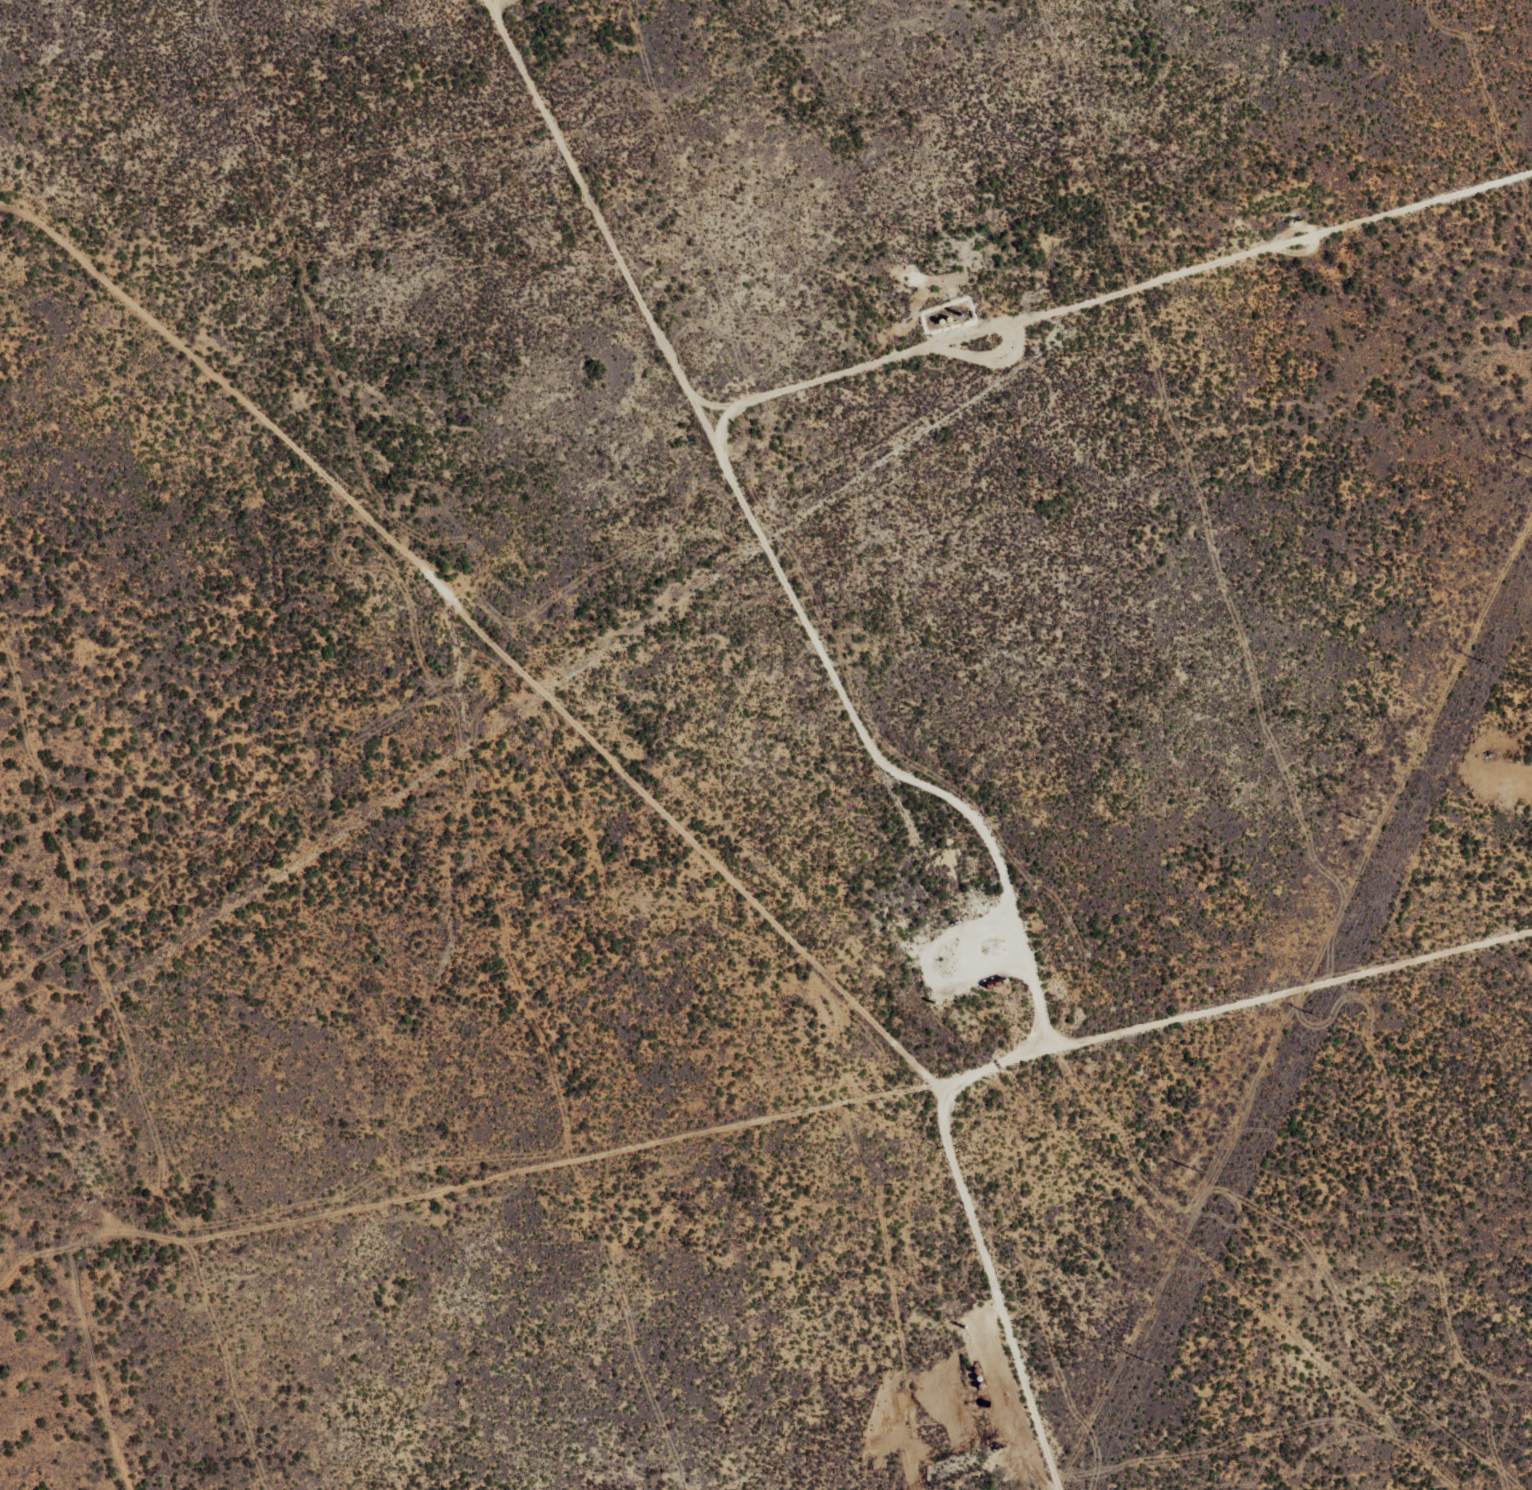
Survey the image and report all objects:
road: (135, 309)
road: (900, 372)
power tower: (1487, 664)
road: (878, 741)
power tower: (1360, 819)
road: (759, 900)
power tower: (1315, 1017)
road: (707, 1130)
power tower: (1192, 1171)
power tower: (1148, 1361)

